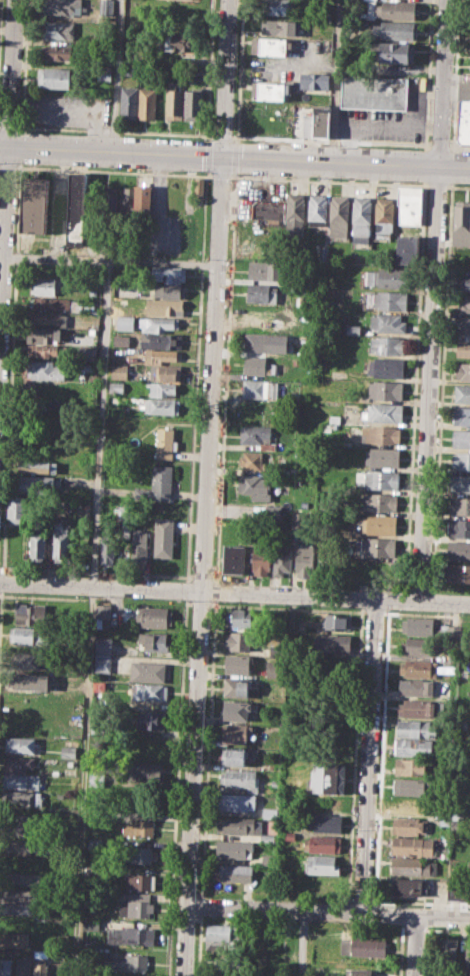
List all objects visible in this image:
building: (277, 6)
building: (62, 7)
building: (106, 7)
building: (391, 9)
building: (182, 16)
road: (0, 19)
building: (281, 27)
building: (59, 30)
building: (394, 30)
building: (181, 41)
building: (271, 46)
building: (393, 51)
building: (57, 52)
road: (24, 63)
road: (209, 70)
road: (238, 70)
road: (11, 72)
building: (104, 72)
road: (116, 75)
building: (53, 77)
road: (224, 77)
building: (314, 80)
road: (335, 80)
road: (443, 83)
building: (270, 91)
building: (464, 91)
building: (374, 92)
building: (128, 102)
building: (149, 103)
building: (173, 104)
building: (191, 104)
parking lot: (67, 110)
road: (83, 110)
building: (316, 121)
building: (463, 122)
road: (0, 125)
road: (9, 126)
road: (114, 131)
road: (221, 136)
road: (331, 140)
road: (439, 145)
road: (459, 146)
road: (206, 155)
road: (234, 155)
road: (235, 156)
road: (8, 167)
road: (114, 171)
road: (221, 175)
road: (329, 180)
road: (437, 185)
road: (458, 186)
building: (198, 188)
building: (126, 200)
building: (110, 201)
building: (143, 201)
building: (35, 205)
building: (410, 205)
building: (77, 206)
road: (158, 207)
building: (268, 209)
building: (317, 209)
building: (295, 213)
building: (338, 216)
building: (384, 217)
building: (361, 219)
building: (461, 222)
road: (3, 235)
parking lot: (166, 235)
building: (407, 250)
building: (322, 253)
road: (56, 258)
building: (264, 269)
building: (168, 274)
building: (384, 277)
building: (465, 281)
building: (44, 286)
building: (169, 290)
building: (261, 293)
building: (386, 300)
building: (51, 303)
building: (90, 304)
building: (465, 304)
building: (77, 305)
building: (166, 306)
building: (263, 315)
building: (51, 318)
building: (387, 322)
building: (158, 324)
building: (463, 326)
building: (351, 328)
building: (45, 335)
building: (122, 339)
building: (161, 340)
building: (260, 343)
building: (387, 344)
building: (463, 348)
building: (44, 349)
building: (89, 353)
building: (163, 357)
building: (258, 365)
building: (88, 366)
building: (387, 367)
building: (45, 369)
road: (103, 369)
building: (119, 371)
building: (462, 371)
building: (166, 372)
road: (195, 375)
road: (225, 377)
road: (429, 383)
building: (259, 388)
building: (157, 389)
building: (116, 390)
building: (385, 390)
building: (462, 392)
building: (156, 406)
building: (383, 412)
building: (461, 414)
building: (334, 418)
building: (380, 434)
building: (257, 436)
building: (461, 437)
building: (165, 443)
building: (382, 456)
building: (252, 460)
building: (460, 460)
building: (37, 466)
building: (377, 479)
building: (460, 482)
building: (37, 484)
building: (157, 485)
building: (255, 486)
building: (379, 502)
building: (460, 505)
building: (16, 511)
building: (272, 512)
building: (379, 524)
building: (459, 528)
building: (164, 537)
building: (39, 543)
building: (61, 543)
building: (375, 546)
building: (107, 549)
building: (459, 550)
building: (139, 551)
building: (233, 558)
building: (262, 558)
building: (304, 559)
building: (281, 561)
building: (326, 561)
road: (202, 565)
building: (376, 569)
building: (458, 572)
road: (186, 590)
road: (215, 592)
road: (235, 592)
building: (103, 610)
building: (32, 614)
building: (152, 617)
building: (240, 618)
building: (337, 622)
building: (418, 625)
building: (26, 635)
building: (156, 641)
building: (239, 641)
building: (332, 642)
building: (103, 645)
building: (418, 646)
building: (26, 660)
building: (102, 663)
building: (238, 664)
building: (417, 668)
building: (148, 671)
building: (29, 680)
building: (237, 686)
building: (415, 687)
building: (149, 692)
building: (415, 708)
building: (238, 709)
building: (150, 720)
building: (462, 726)
building: (97, 727)
building: (415, 728)
building: (235, 733)
building: (20, 744)
building: (413, 746)
road: (208, 749)
building: (68, 752)
road: (368, 755)
building: (235, 756)
building: (18, 763)
building: (410, 766)
building: (70, 770)
building: (143, 773)
building: (328, 777)
building: (95, 778)
building: (240, 778)
building: (21, 781)
road: (81, 781)
building: (409, 786)
road: (176, 787)
building: (21, 798)
building: (237, 801)
building: (327, 802)
building: (409, 805)
building: (268, 812)
building: (95, 816)
building: (325, 822)
building: (22, 824)
building: (456, 824)
building: (239, 825)
building: (139, 826)
building: (408, 826)
building: (267, 838)
building: (322, 842)
building: (20, 844)
building: (96, 844)
building: (412, 845)
building: (235, 848)
building: (139, 854)
building: (267, 859)
building: (322, 864)
building: (411, 866)
building: (92, 869)
building: (233, 872)
building: (24, 878)
building: (141, 881)
building: (317, 885)
building: (408, 886)
building: (457, 890)
building: (18, 893)
building: (90, 900)
road: (200, 905)
building: (18, 907)
building: (135, 908)
road: (328, 909)
building: (91, 924)
building: (221, 932)
building: (359, 932)
building: (131, 936)
building: (13, 939)
building: (60, 940)
road: (301, 942)
road: (198, 945)
road: (413, 945)
building: (362, 947)
building: (467, 953)
building: (448, 954)
building: (128, 963)
building: (5, 966)
building: (23, 966)
building: (42, 967)
building: (333, 971)
building: (360, 972)

